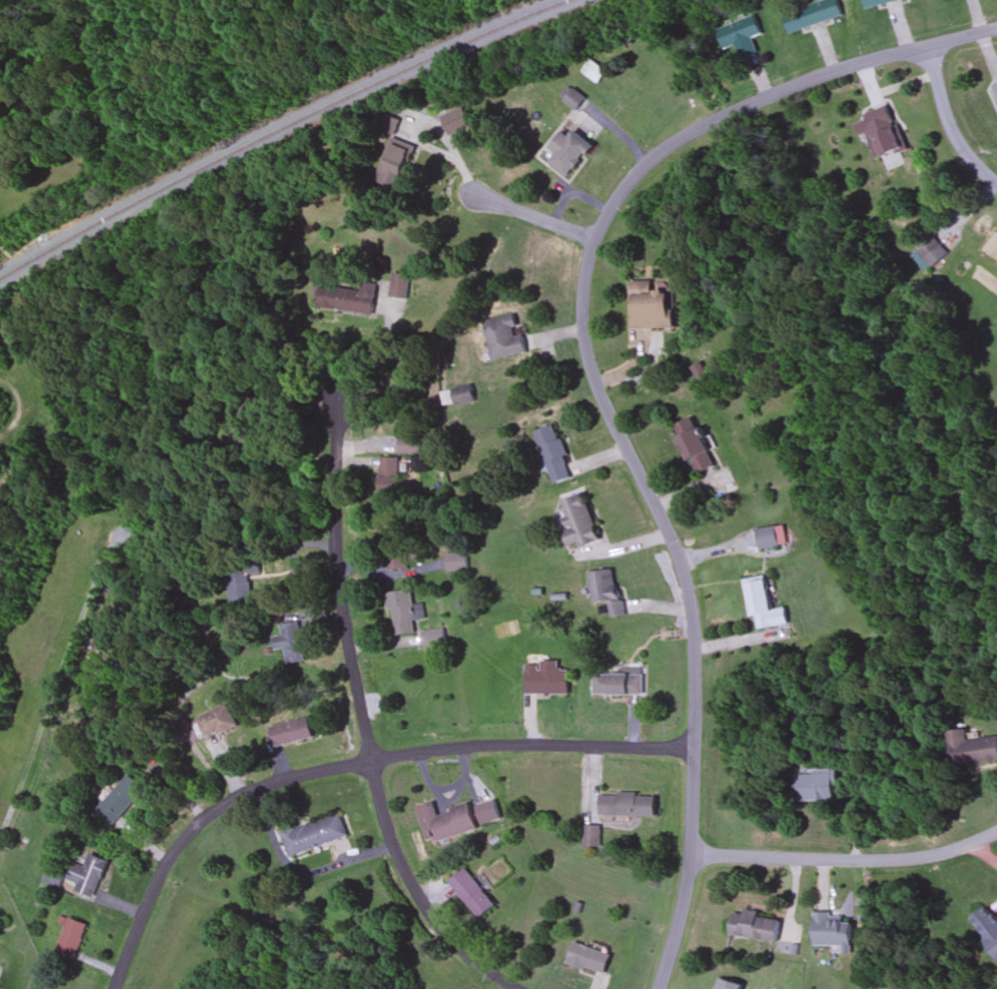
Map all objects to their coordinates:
building: (878, 2)
building: (813, 15)
building: (741, 37)
building: (595, 72)
building: (995, 89)
building: (574, 98)
road: (952, 121)
railway: (282, 128)
building: (884, 131)
building: (570, 152)
building: (394, 160)
road: (541, 218)
building: (929, 254)
road: (590, 271)
building: (347, 298)
building: (654, 307)
building: (506, 338)
building: (459, 397)
building: (410, 446)
building: (697, 446)
building: (555, 455)
building: (388, 476)
building: (581, 522)
building: (773, 537)
building: (397, 558)
building: (458, 562)
building: (242, 580)
building: (604, 587)
building: (765, 604)
building: (404, 613)
building: (434, 639)
building: (290, 643)
building: (549, 679)
building: (620, 683)
road: (52, 696)
road: (366, 721)
building: (217, 722)
building: (292, 732)
building: (972, 749)
road: (350, 766)
building: (820, 786)
building: (124, 799)
building: (629, 805)
building: (488, 813)
building: (446, 822)
building: (314, 836)
building: (592, 836)
road: (846, 860)
road: (690, 869)
building: (89, 875)
building: (473, 895)
building: (757, 927)
building: (987, 929)
building: (835, 932)
building: (72, 939)
building: (589, 959)
building: (729, 985)

